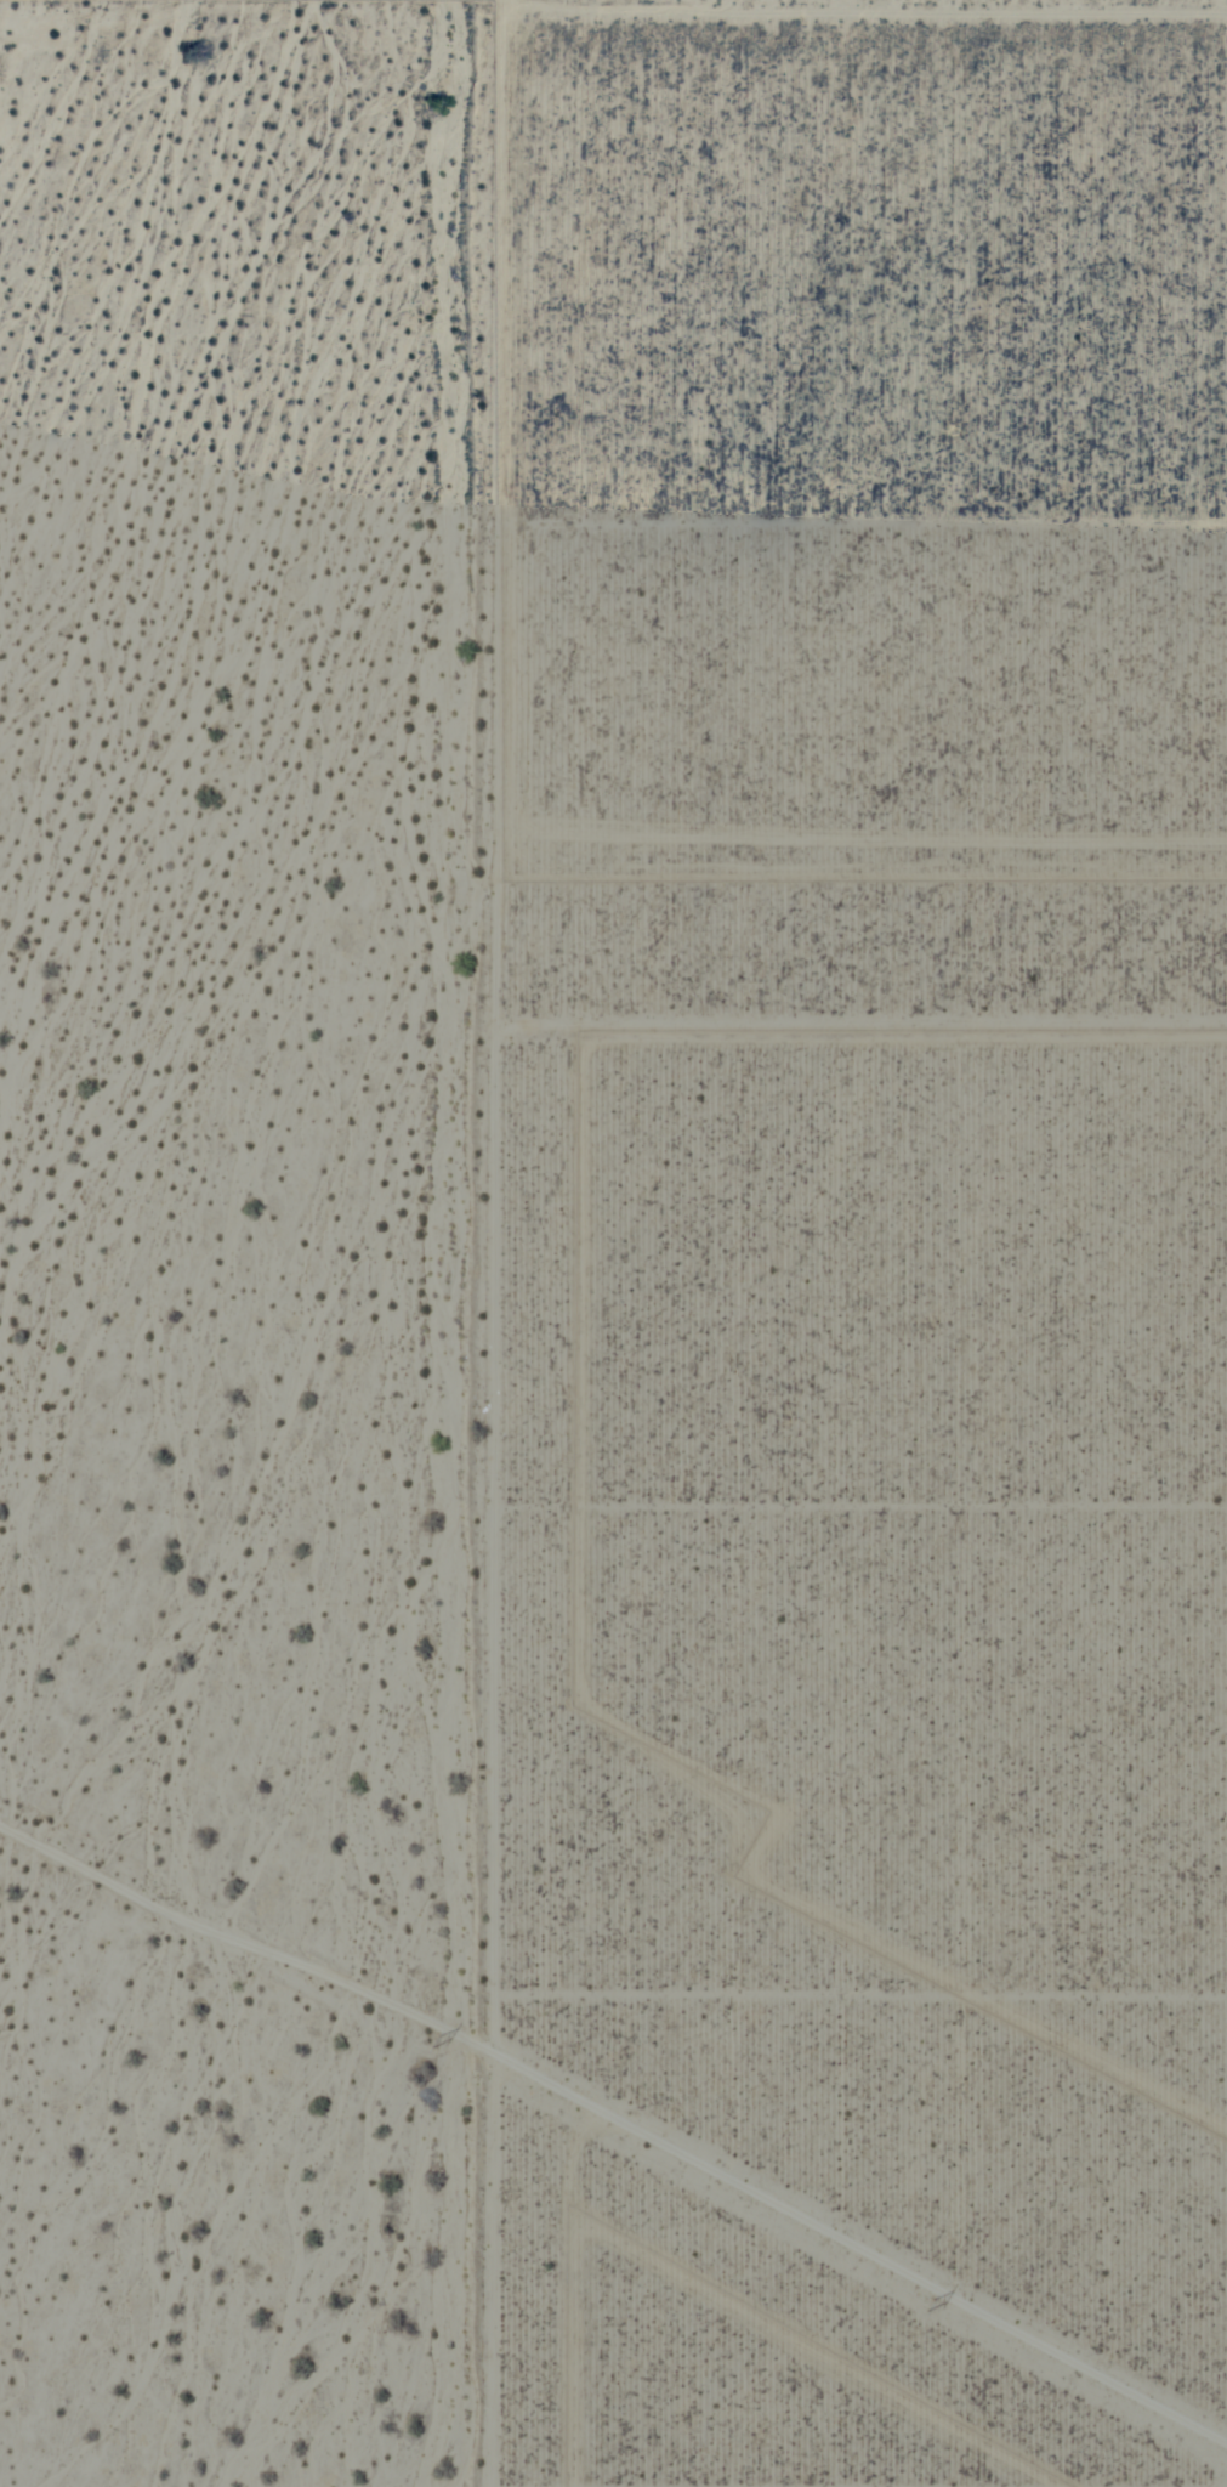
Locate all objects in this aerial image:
crop: (854, 1251)
power tower: (431, 2038)
power tower: (928, 2302)

